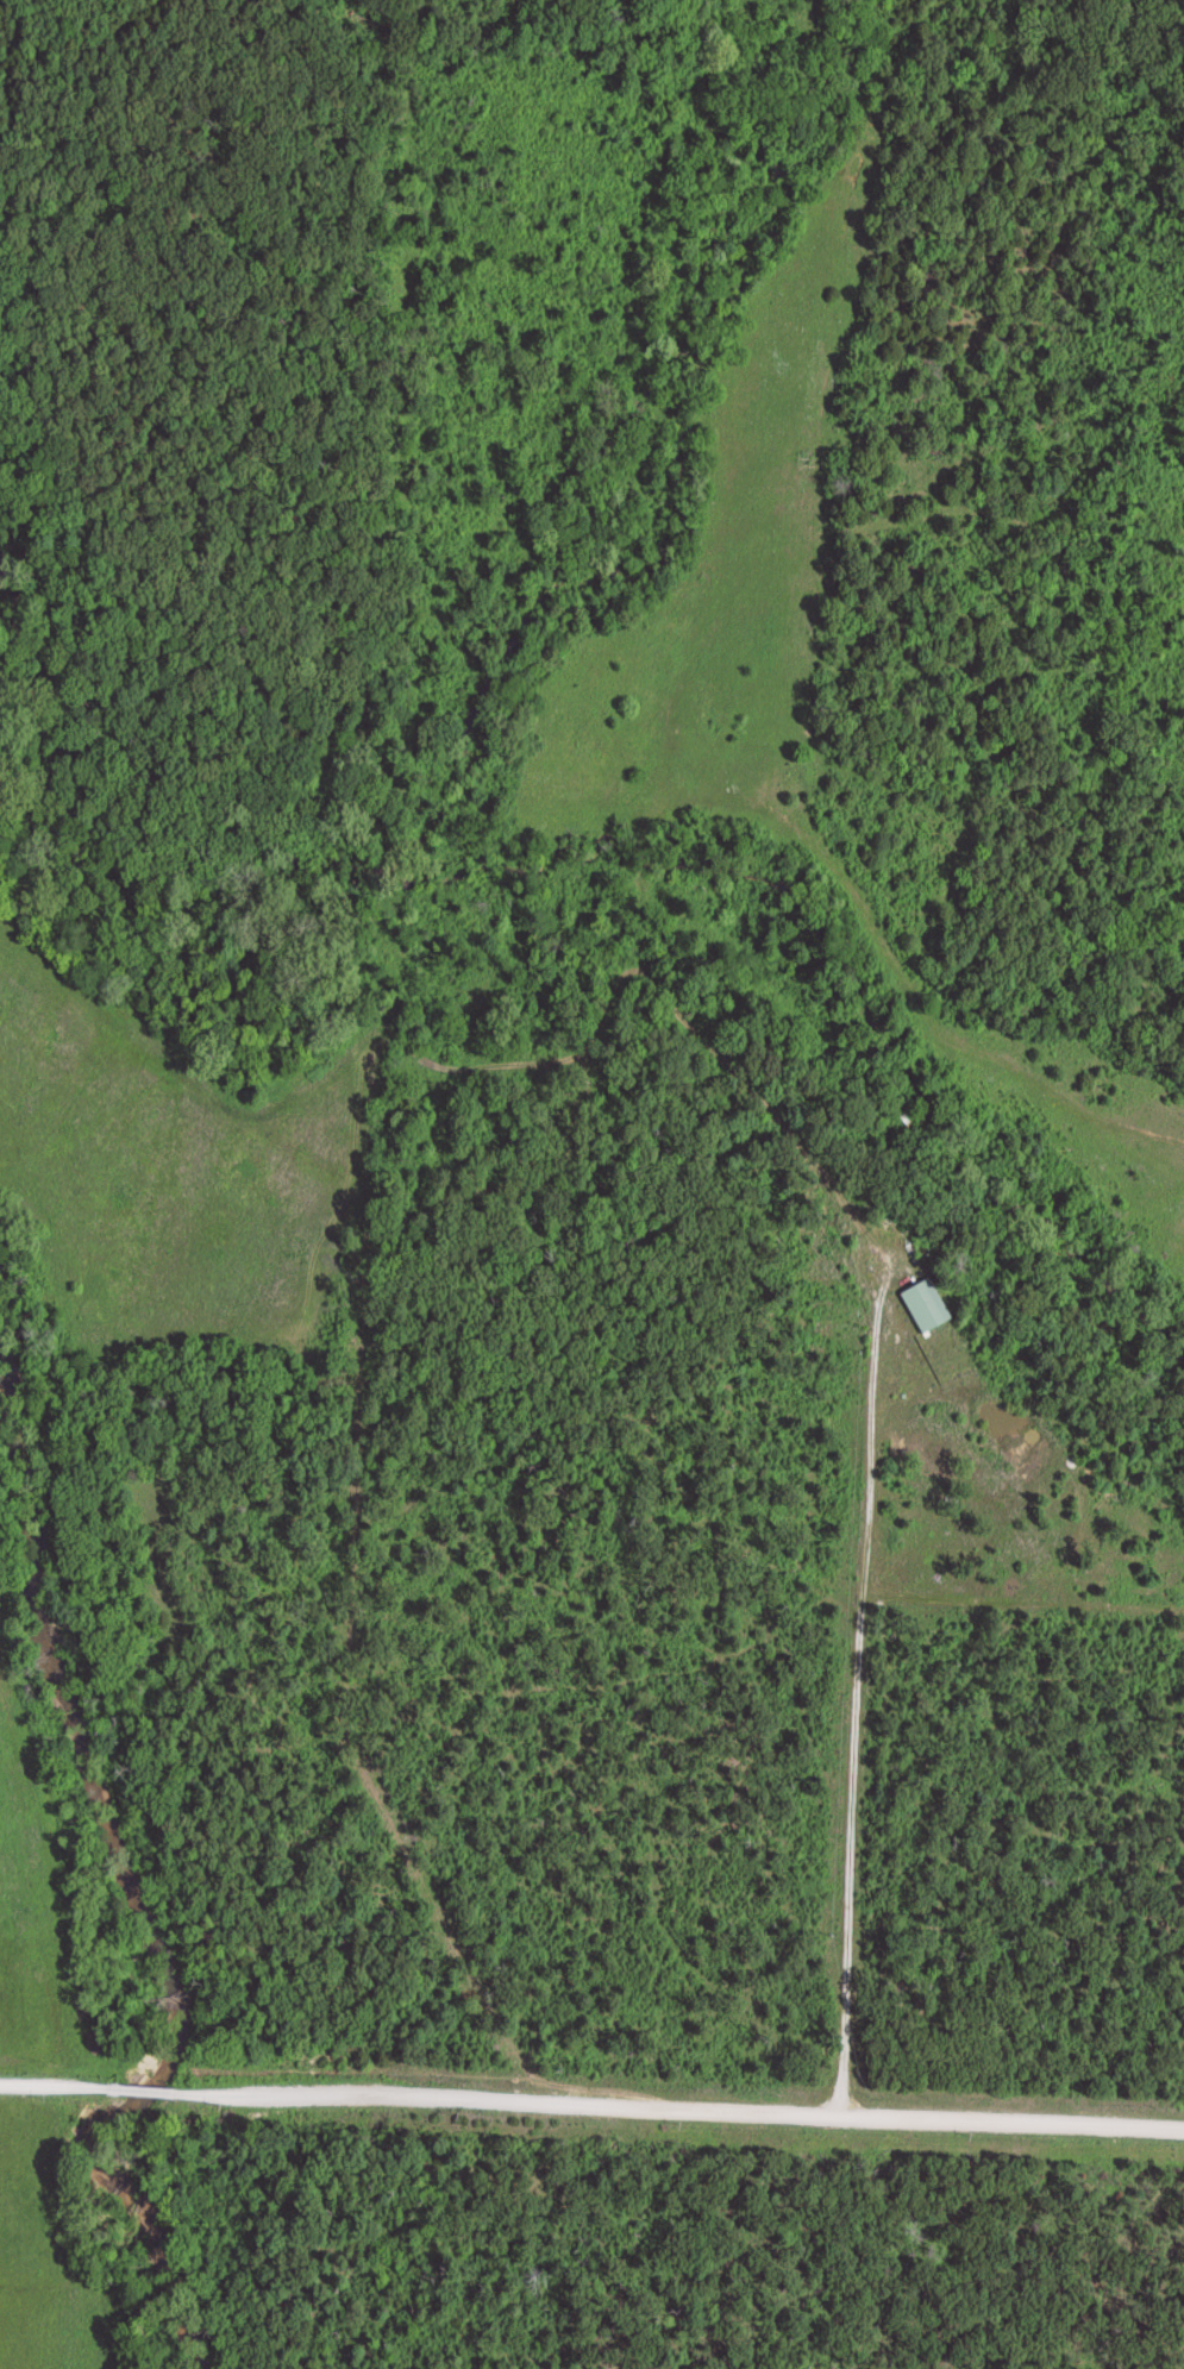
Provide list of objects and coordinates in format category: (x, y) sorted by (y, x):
building: (926, 1305)
road: (591, 2106)

